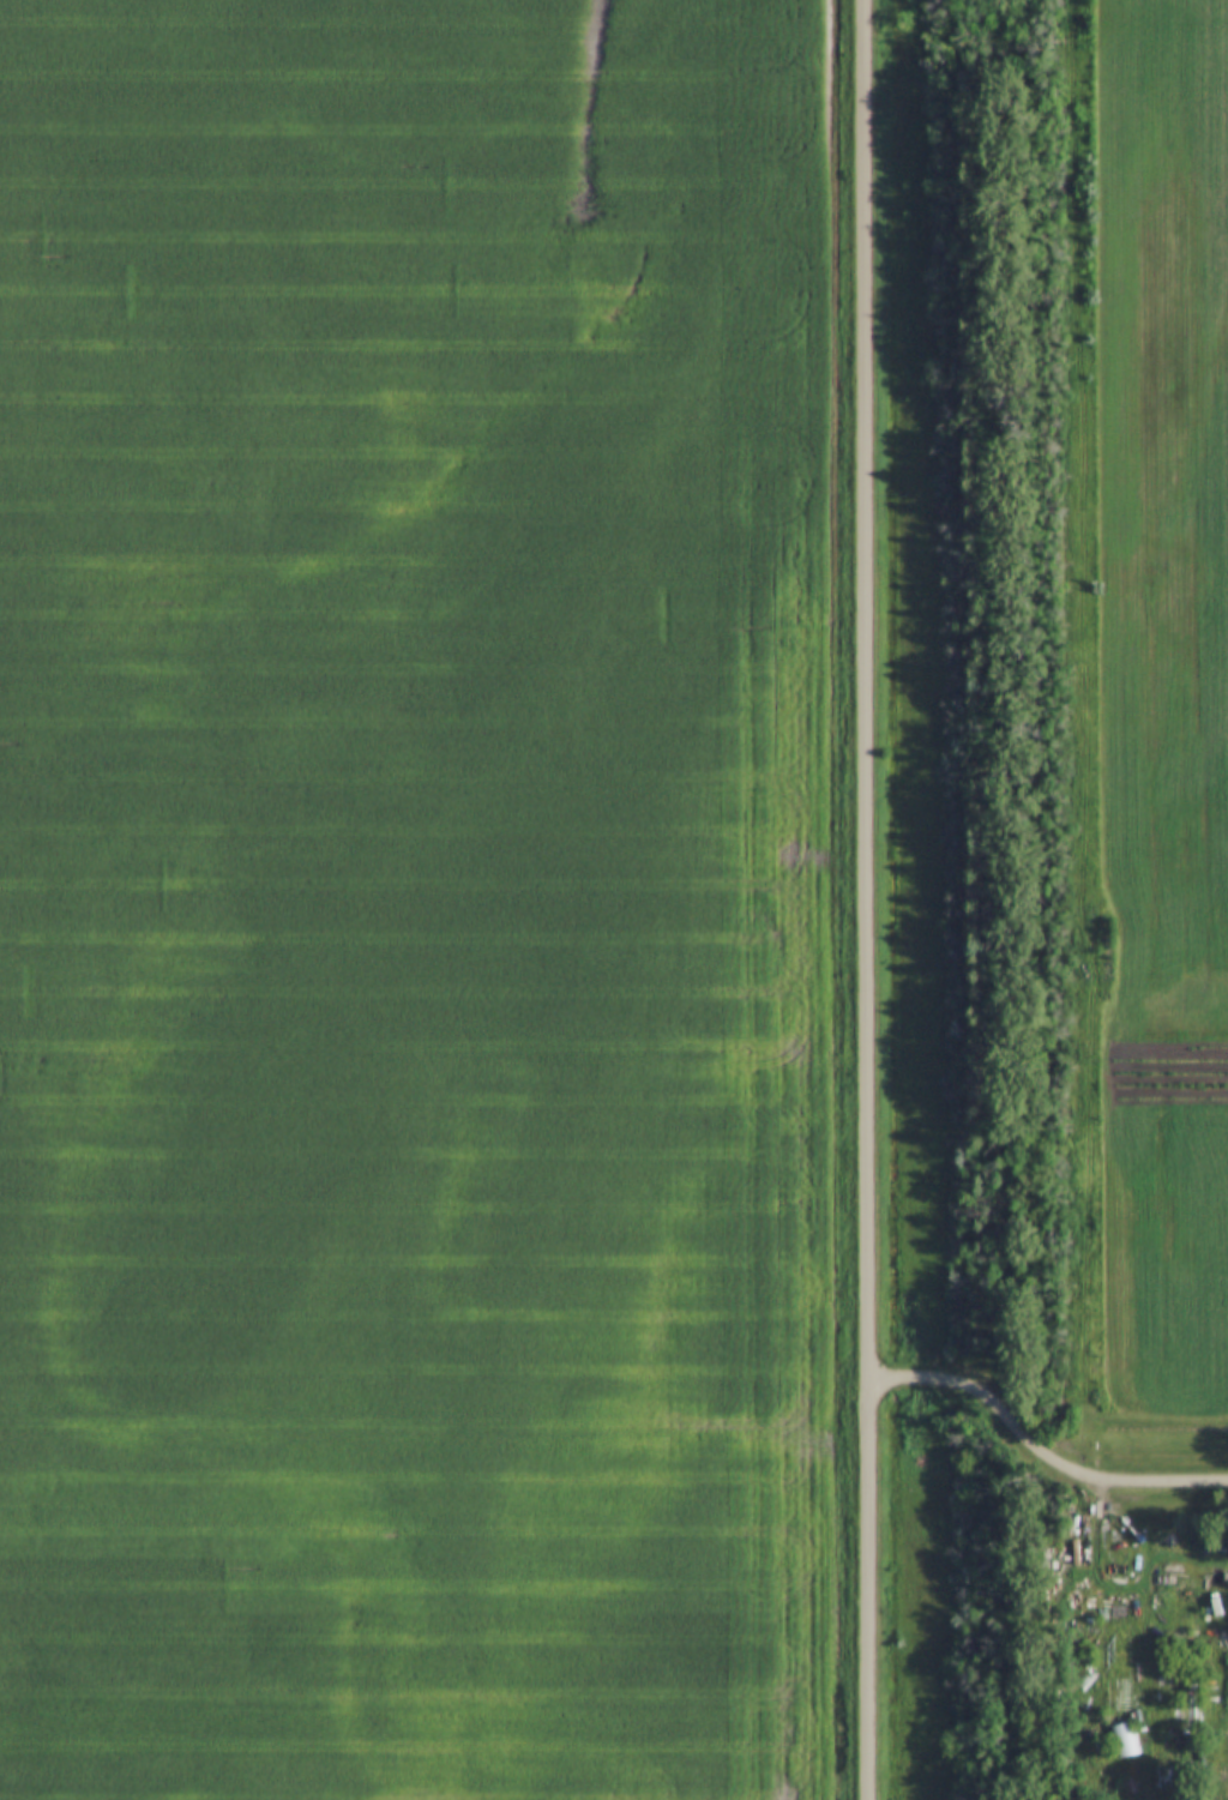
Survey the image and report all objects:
road: (867, 899)
road: (1039, 1452)
building: (1122, 1741)

